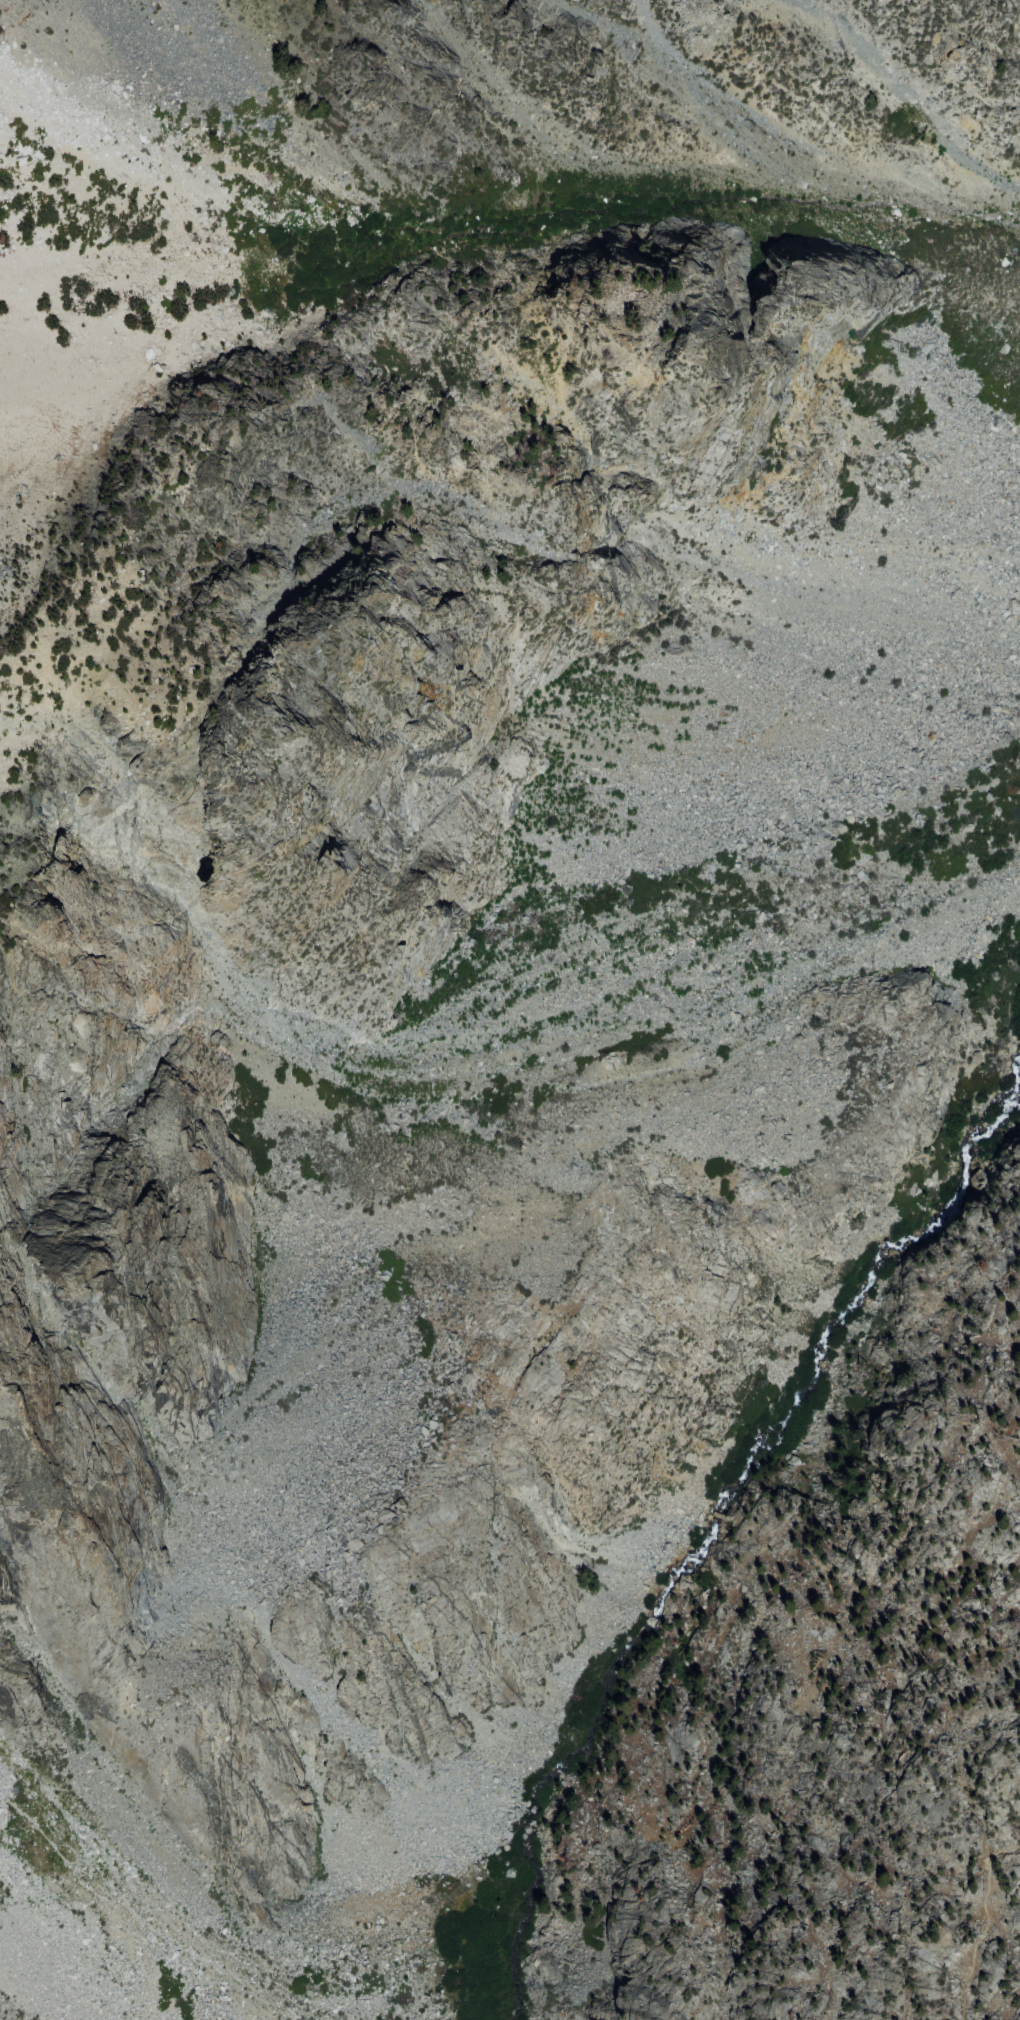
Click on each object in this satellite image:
road: (984, 1923)

